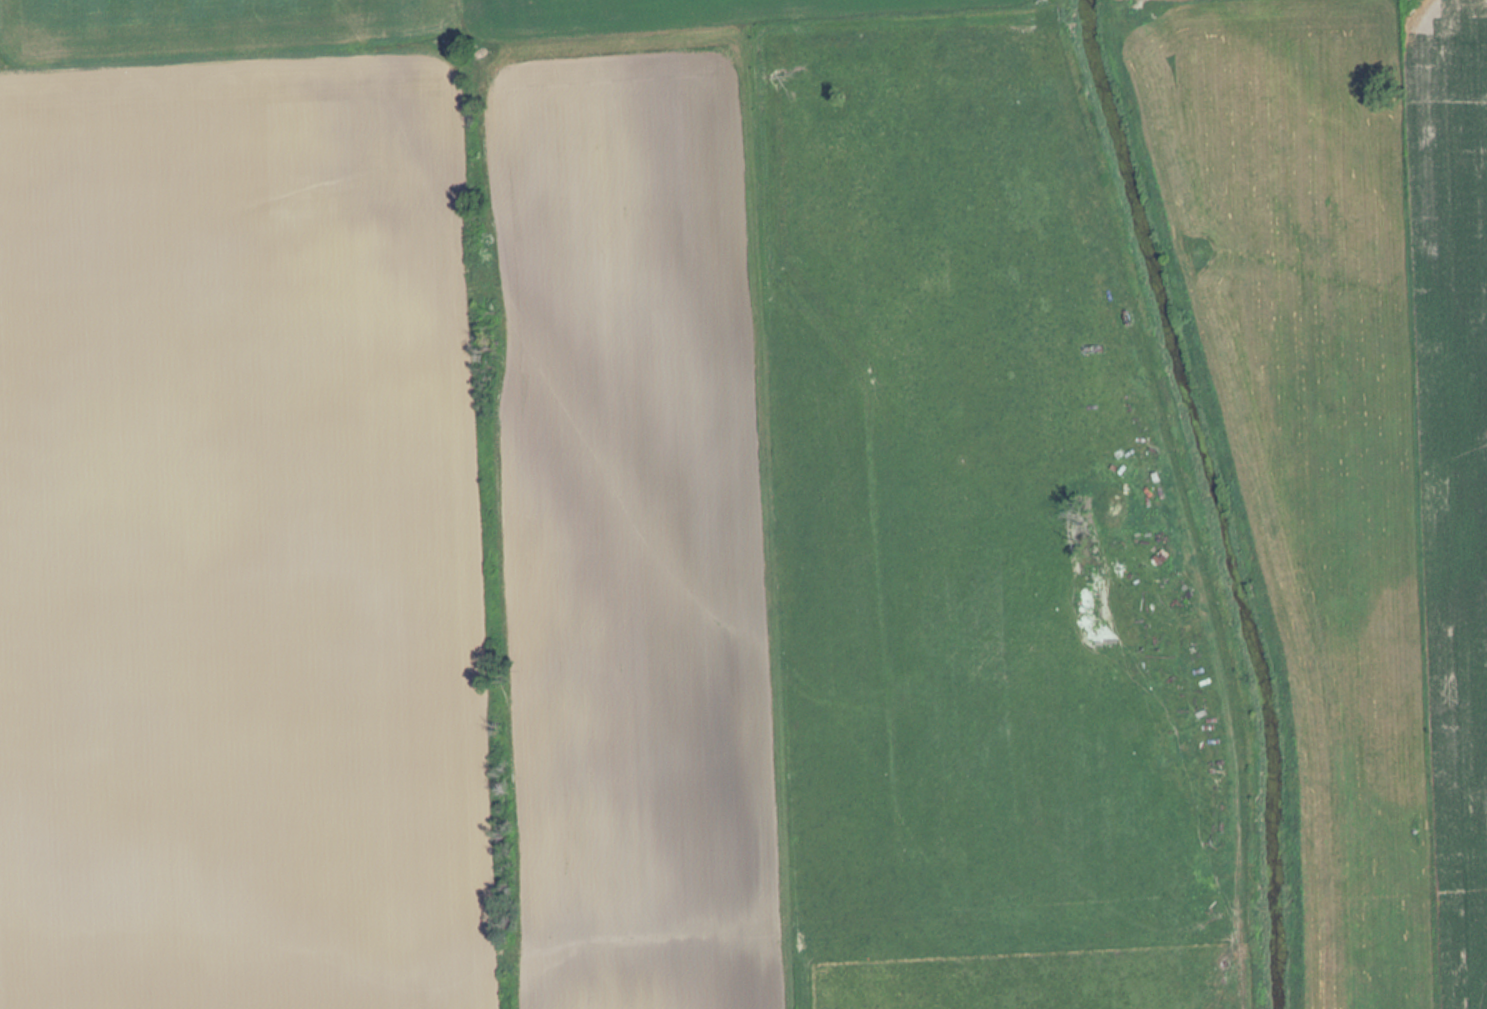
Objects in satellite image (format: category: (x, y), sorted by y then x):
road: (1243, 1007)

